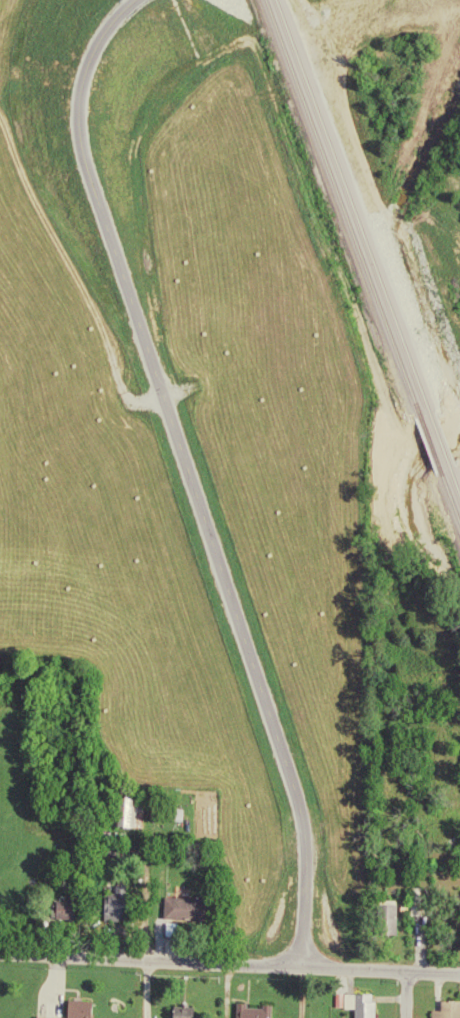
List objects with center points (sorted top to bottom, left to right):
railway: (349, 220)
railway: (432, 449)
road: (187, 477)
railway: (447, 494)
building: (132, 813)
building: (418, 907)
building: (117, 910)
building: (185, 910)
road: (230, 963)
road: (403, 995)
building: (360, 1005)
building: (78, 1010)
building: (448, 1010)
building: (253, 1012)
building: (184, 1013)

